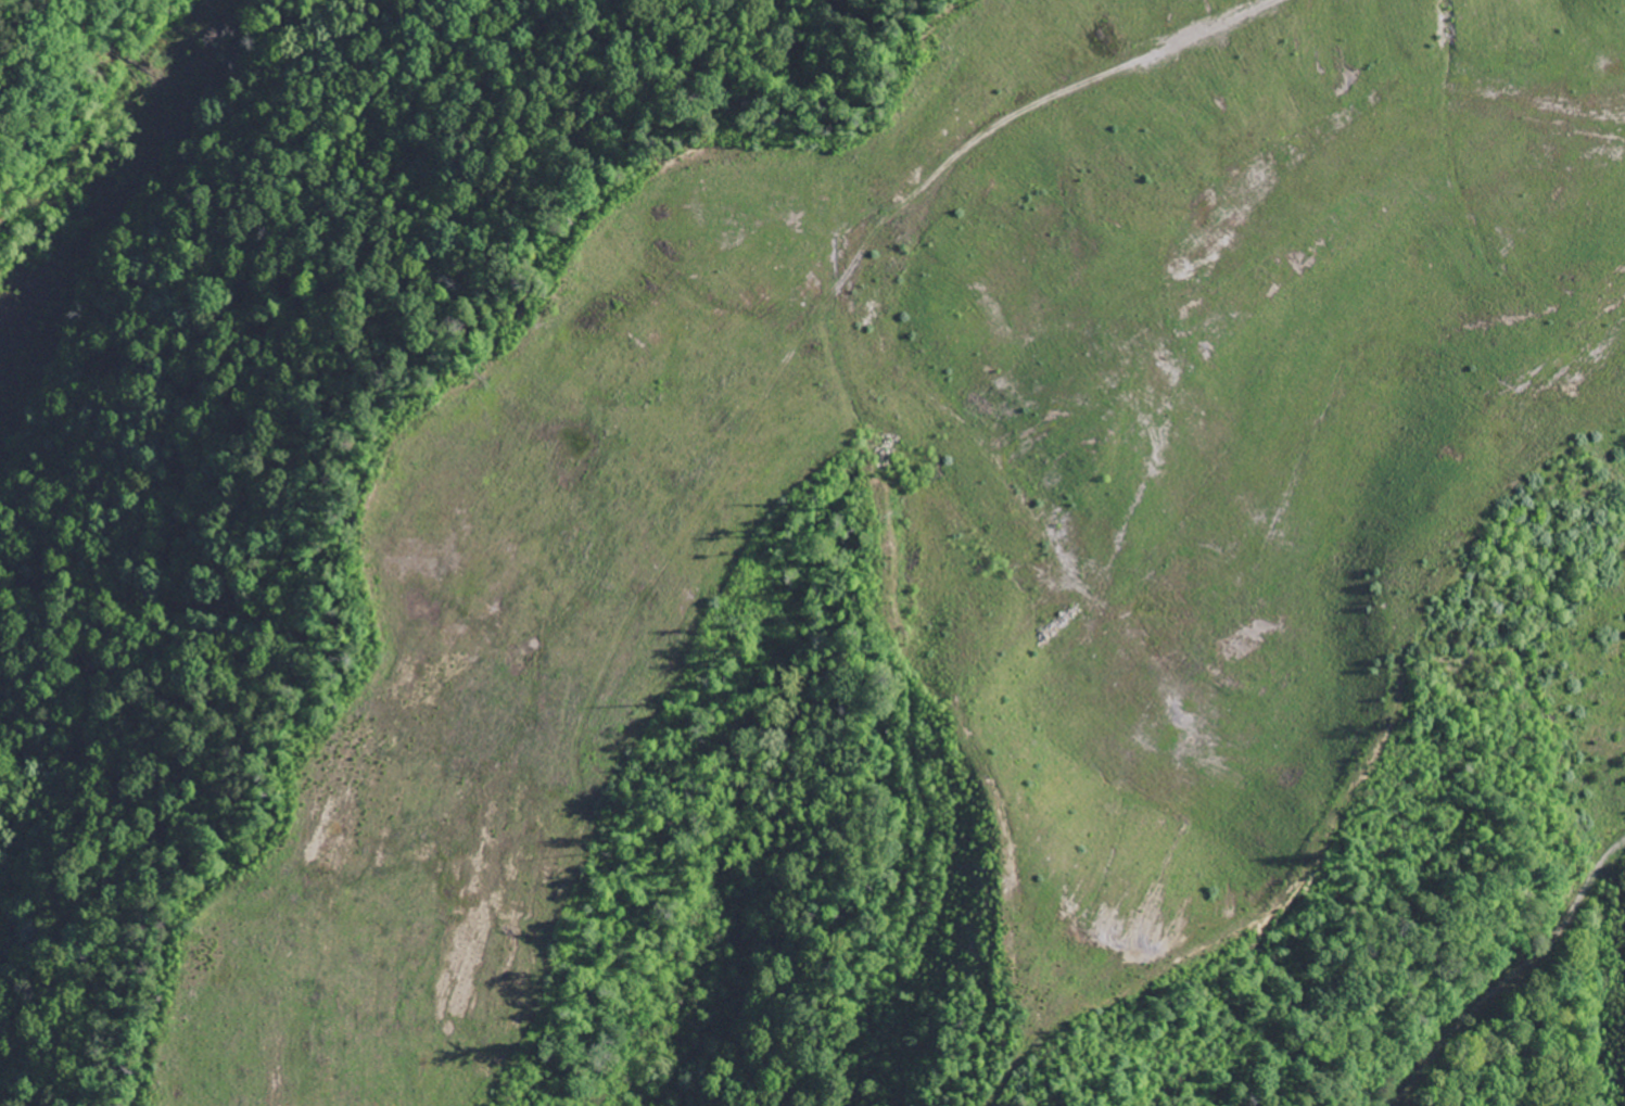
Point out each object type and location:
road: (1549, 981)

